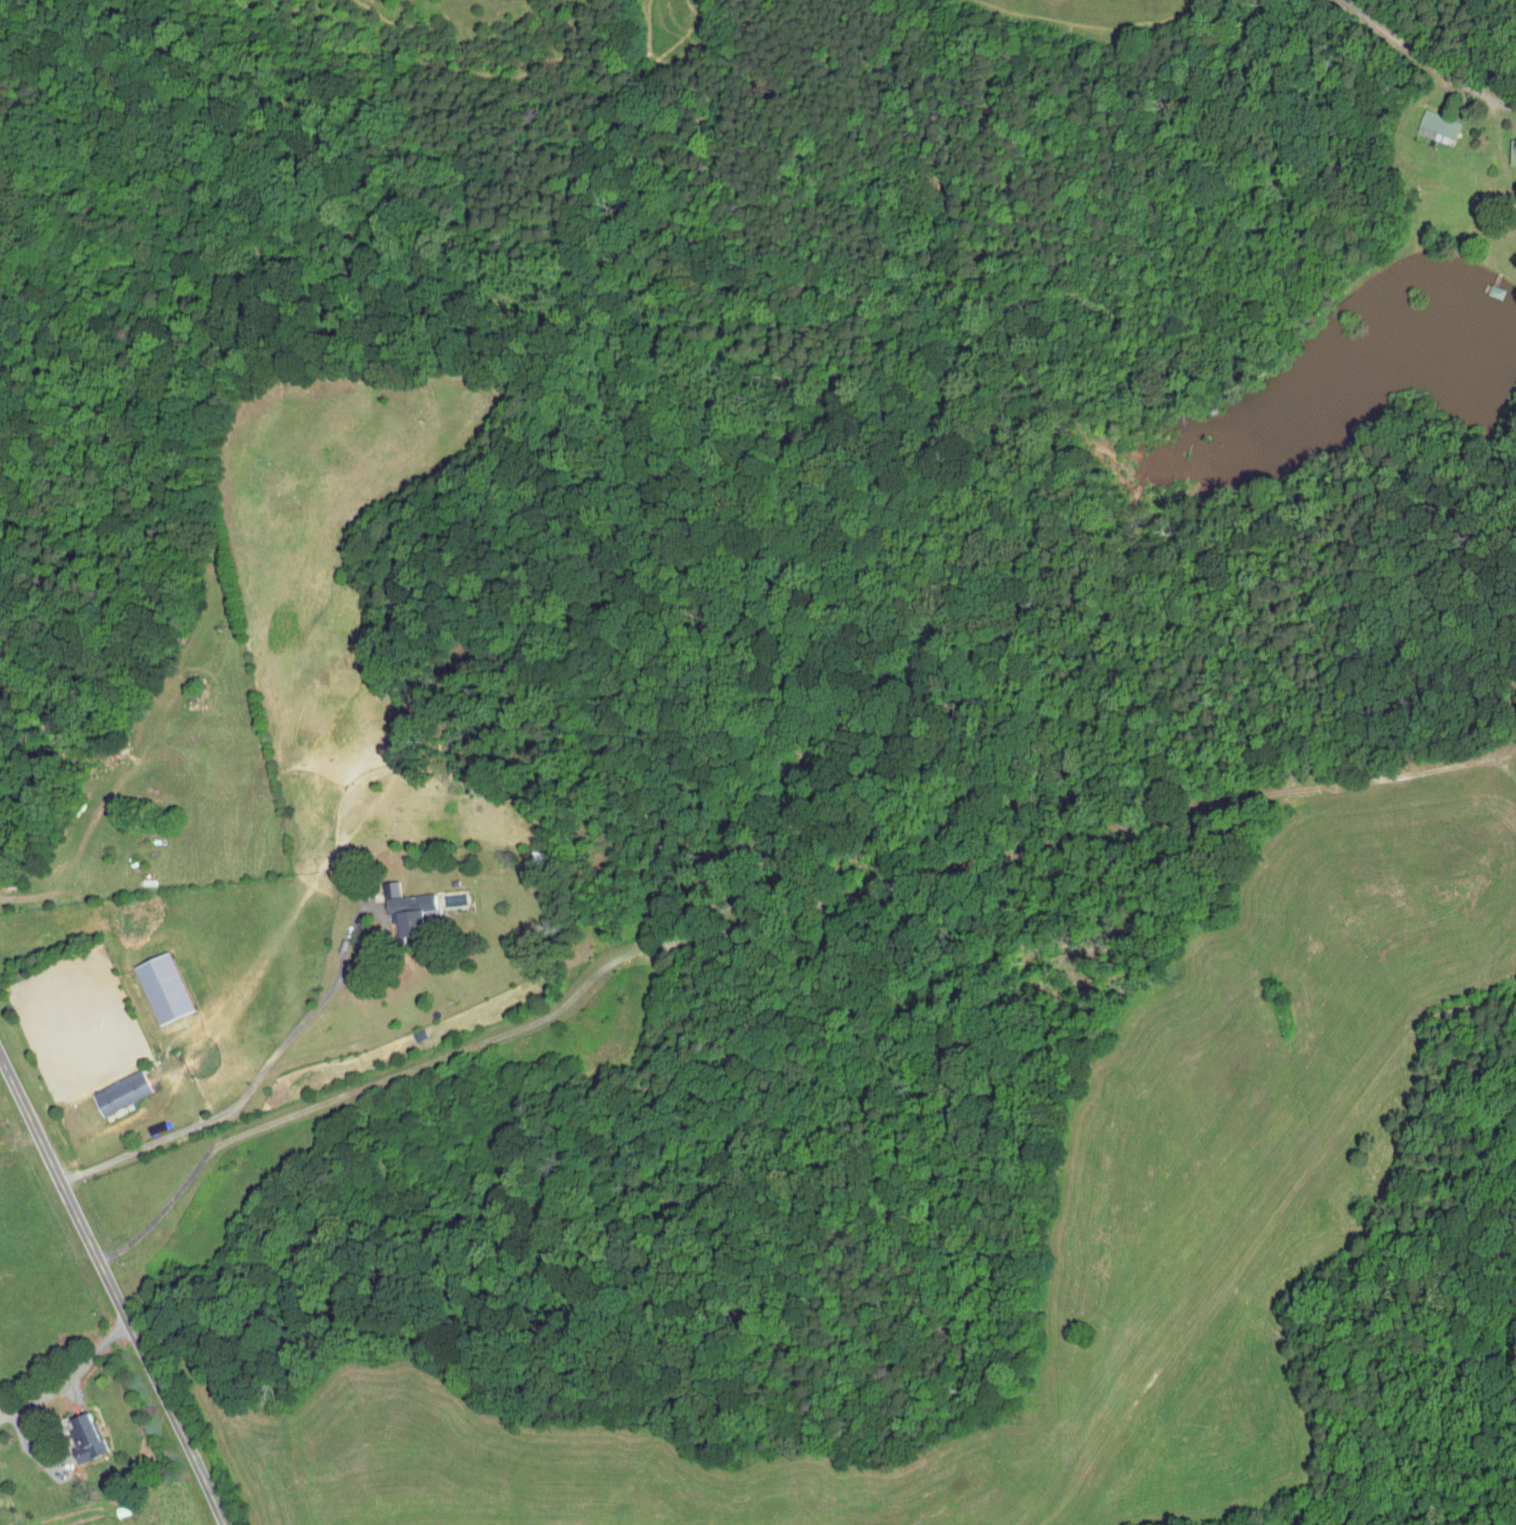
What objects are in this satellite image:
road: (1426, 61)
building: (1438, 127)
building: (1513, 151)
road: (31, 746)
building: (419, 908)
road: (764, 915)
building: (165, 988)
road: (295, 1029)
building: (121, 1092)
road: (149, 1142)
road: (112, 1291)
road: (71, 1378)
building: (85, 1436)

